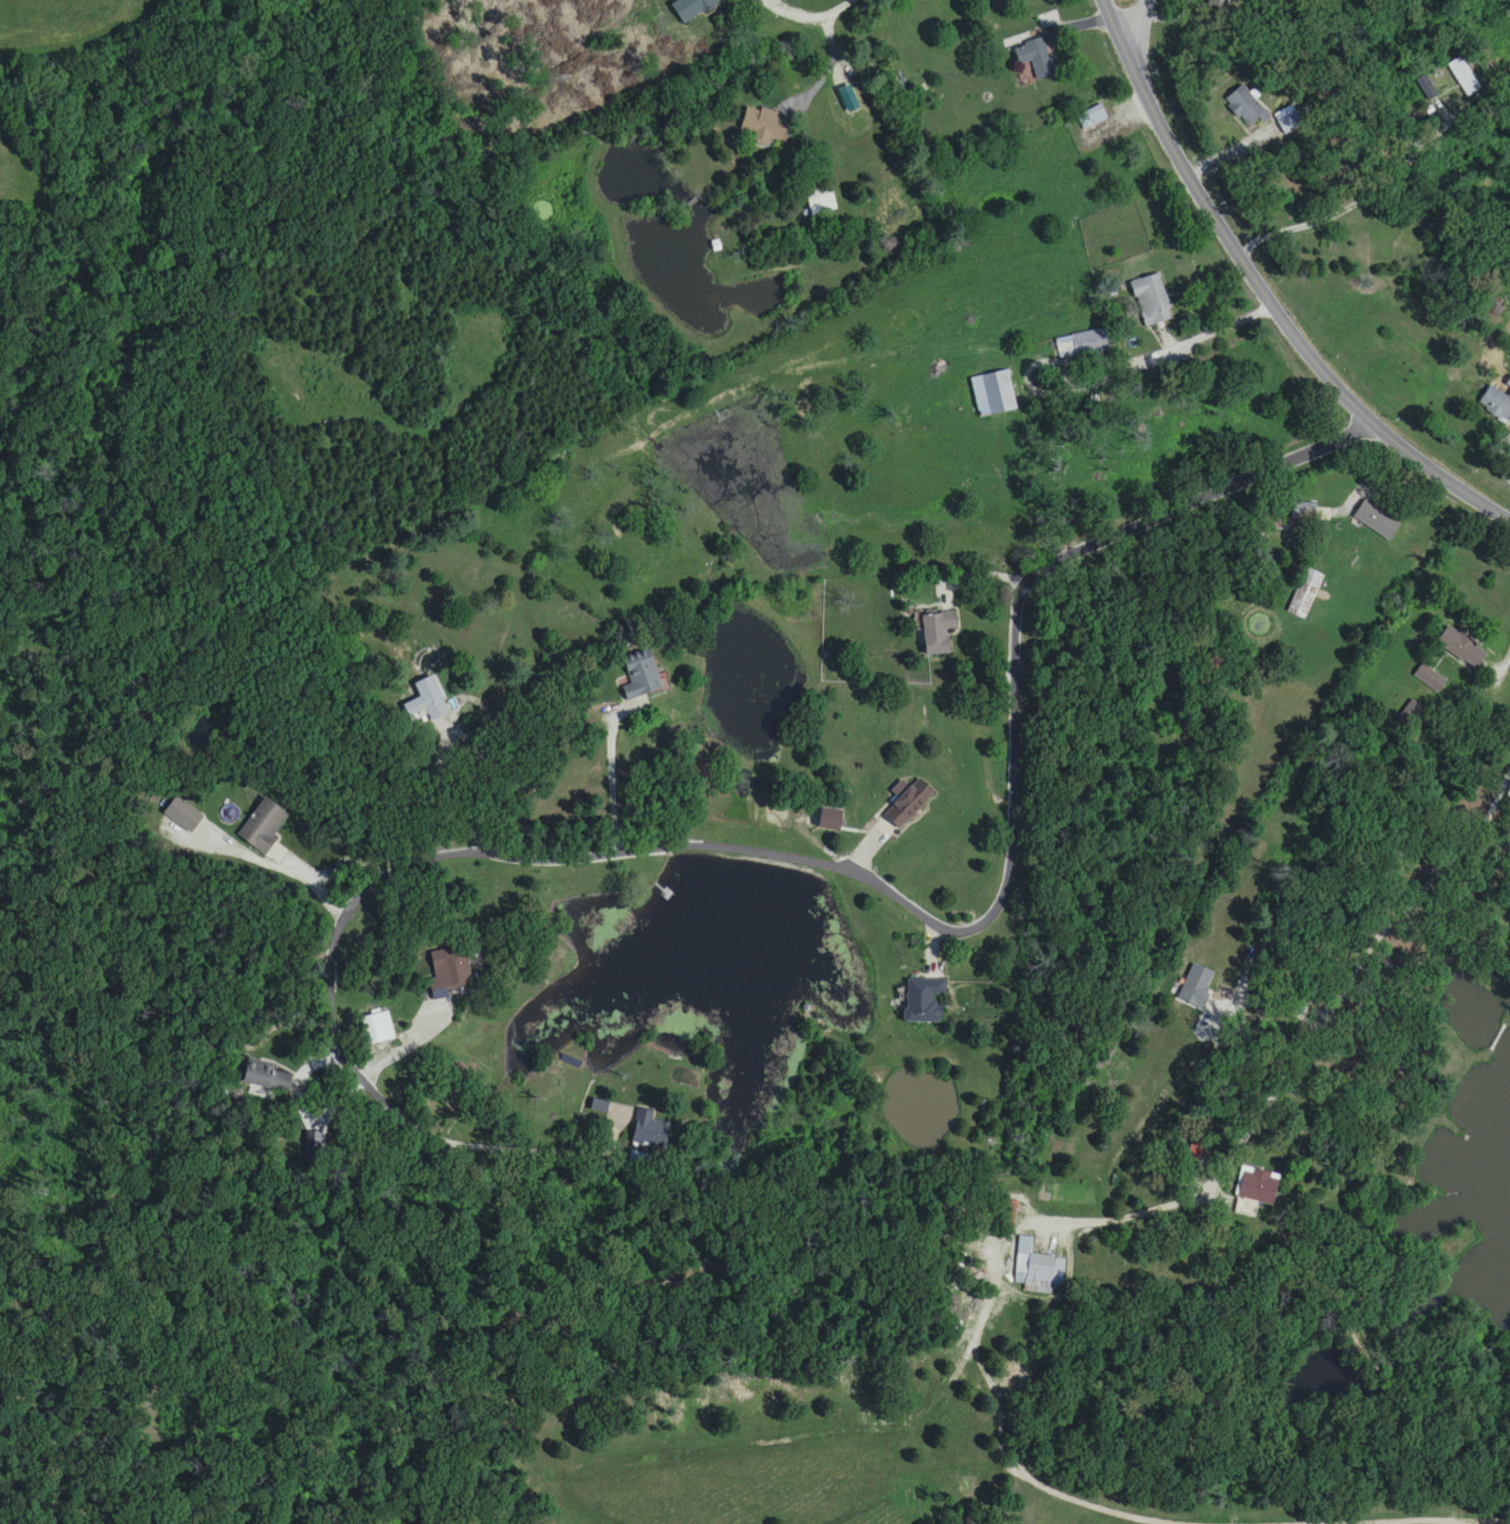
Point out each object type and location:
building: (1014, 0)
road: (849, 4)
building: (693, 8)
road: (803, 21)
road: (1140, 36)
building: (1036, 59)
road: (830, 68)
building: (1463, 77)
building: (1246, 108)
building: (1093, 118)
building: (1288, 121)
building: (763, 125)
road: (1232, 152)
building: (822, 201)
road: (1350, 207)
road: (1262, 297)
building: (1151, 300)
building: (1083, 344)
road: (1191, 345)
building: (1509, 358)
building: (1508, 385)
building: (994, 394)
building: (1496, 405)
road: (1196, 500)
building: (1305, 511)
building: (1376, 521)
road: (971, 573)
building: (1305, 595)
building: (937, 633)
building: (1461, 648)
building: (640, 679)
building: (1430, 679)
road: (1498, 690)
building: (428, 701)
road: (616, 782)
road: (440, 794)
building: (908, 805)
building: (830, 820)
building: (264, 827)
road: (780, 855)
road: (346, 860)
road: (311, 882)
road: (1367, 953)
building: (446, 975)
building: (924, 1001)
building: (378, 1029)
road: (415, 1045)
building: (271, 1078)
building: (652, 1132)
road: (460, 1140)
building: (1258, 1189)
road: (1133, 1216)
building: (1038, 1270)

